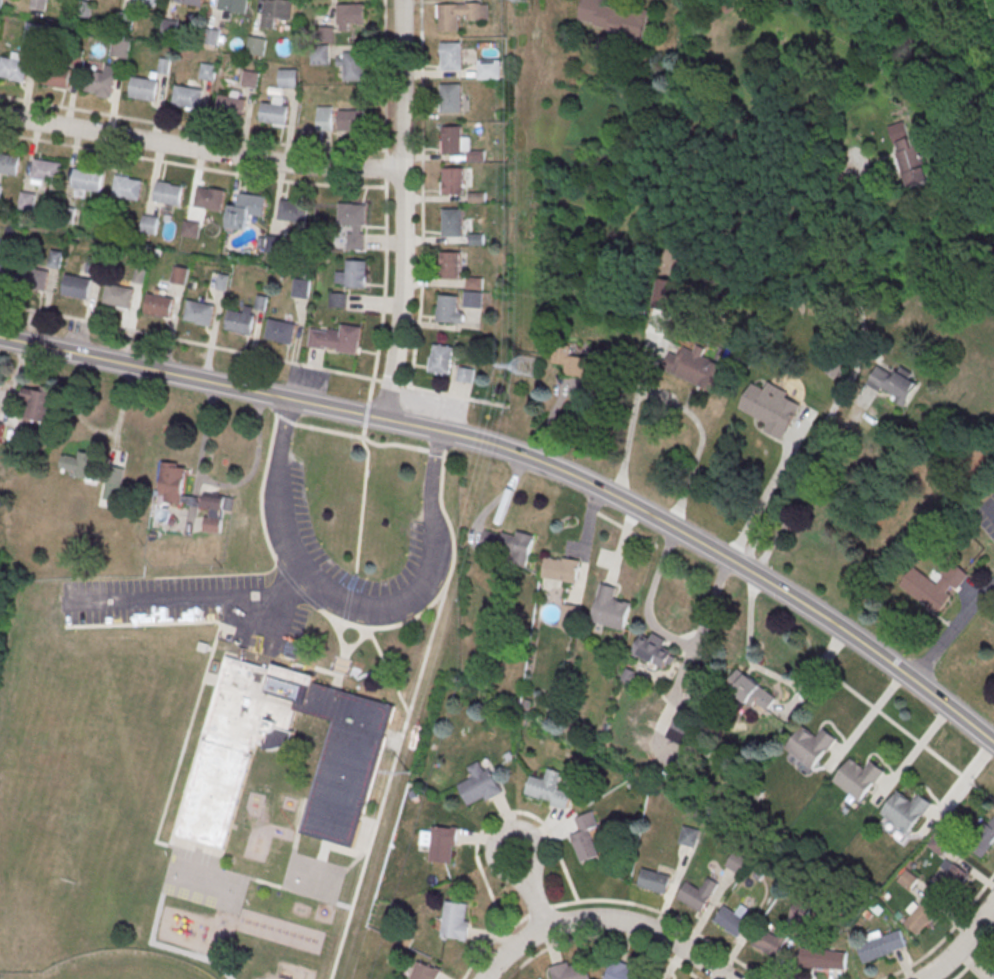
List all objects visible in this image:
building: (0, 0)
building: (149, 1)
building: (191, 2)
road: (883, 2)
road: (885, 2)
building: (38, 4)
building: (234, 6)
building: (276, 13)
building: (351, 16)
road: (988, 16)
building: (450, 19)
building: (617, 21)
building: (34, 33)
building: (327, 33)
road: (943, 39)
park: (918, 43)
building: (256, 45)
building: (120, 48)
building: (320, 56)
building: (453, 59)
building: (350, 65)
building: (489, 66)
building: (13, 70)
building: (207, 71)
building: (250, 78)
building: (288, 78)
building: (57, 79)
building: (100, 84)
building: (144, 91)
building: (186, 99)
building: (452, 100)
building: (231, 108)
building: (274, 115)
building: (325, 118)
building: (351, 119)
building: (453, 142)
road: (200, 150)
building: (909, 154)
building: (9, 166)
building: (47, 173)
building: (88, 182)
building: (454, 182)
building: (128, 190)
building: (168, 195)
building: (210, 199)
building: (26, 200)
building: (252, 206)
park: (986, 206)
road: (402, 210)
building: (292, 211)
building: (149, 223)
building: (355, 223)
building: (453, 225)
building: (190, 228)
building: (274, 244)
building: (55, 260)
building: (452, 268)
building: (2, 273)
building: (353, 274)
building: (34, 280)
building: (301, 287)
building: (77, 288)
building: (338, 295)
building: (120, 298)
building: (473, 299)
building: (160, 307)
building: (449, 311)
building: (201, 315)
building: (241, 324)
building: (281, 333)
building: (338, 340)
road: (254, 355)
building: (443, 361)
building: (579, 366)
power tower: (525, 367)
building: (698, 371)
building: (466, 374)
building: (893, 384)
road: (847, 387)
building: (37, 403)
road: (672, 403)
building: (771, 410)
building: (1, 431)
road: (531, 458)
building: (80, 464)
building: (172, 483)
road: (763, 500)
building: (78, 507)
building: (215, 511)
building: (515, 545)
building: (559, 571)
building: (934, 590)
road: (348, 606)
building: (610, 607)
building: (566, 616)
road: (664, 631)
road: (952, 633)
building: (655, 652)
road: (765, 674)
building: (751, 691)
road: (410, 707)
building: (685, 721)
road: (914, 740)
building: (810, 748)
power tower: (407, 771)
building: (859, 781)
building: (480, 785)
building: (548, 788)
building: (338, 791)
building: (906, 813)
road: (529, 829)
building: (585, 836)
building: (689, 836)
building: (441, 843)
building: (939, 843)
building: (983, 843)
building: (737, 862)
building: (907, 878)
building: (654, 880)
building: (954, 883)
building: (697, 896)
road: (611, 902)
building: (799, 911)
road: (602, 919)
building: (921, 919)
building: (456, 920)
building: (731, 924)
road: (946, 935)
road: (601, 938)
building: (770, 943)
building: (880, 945)
road: (962, 945)
road: (975, 957)
building: (823, 961)
park: (121, 967)
building: (571, 970)
building: (425, 971)
building: (623, 971)
building: (992, 973)

